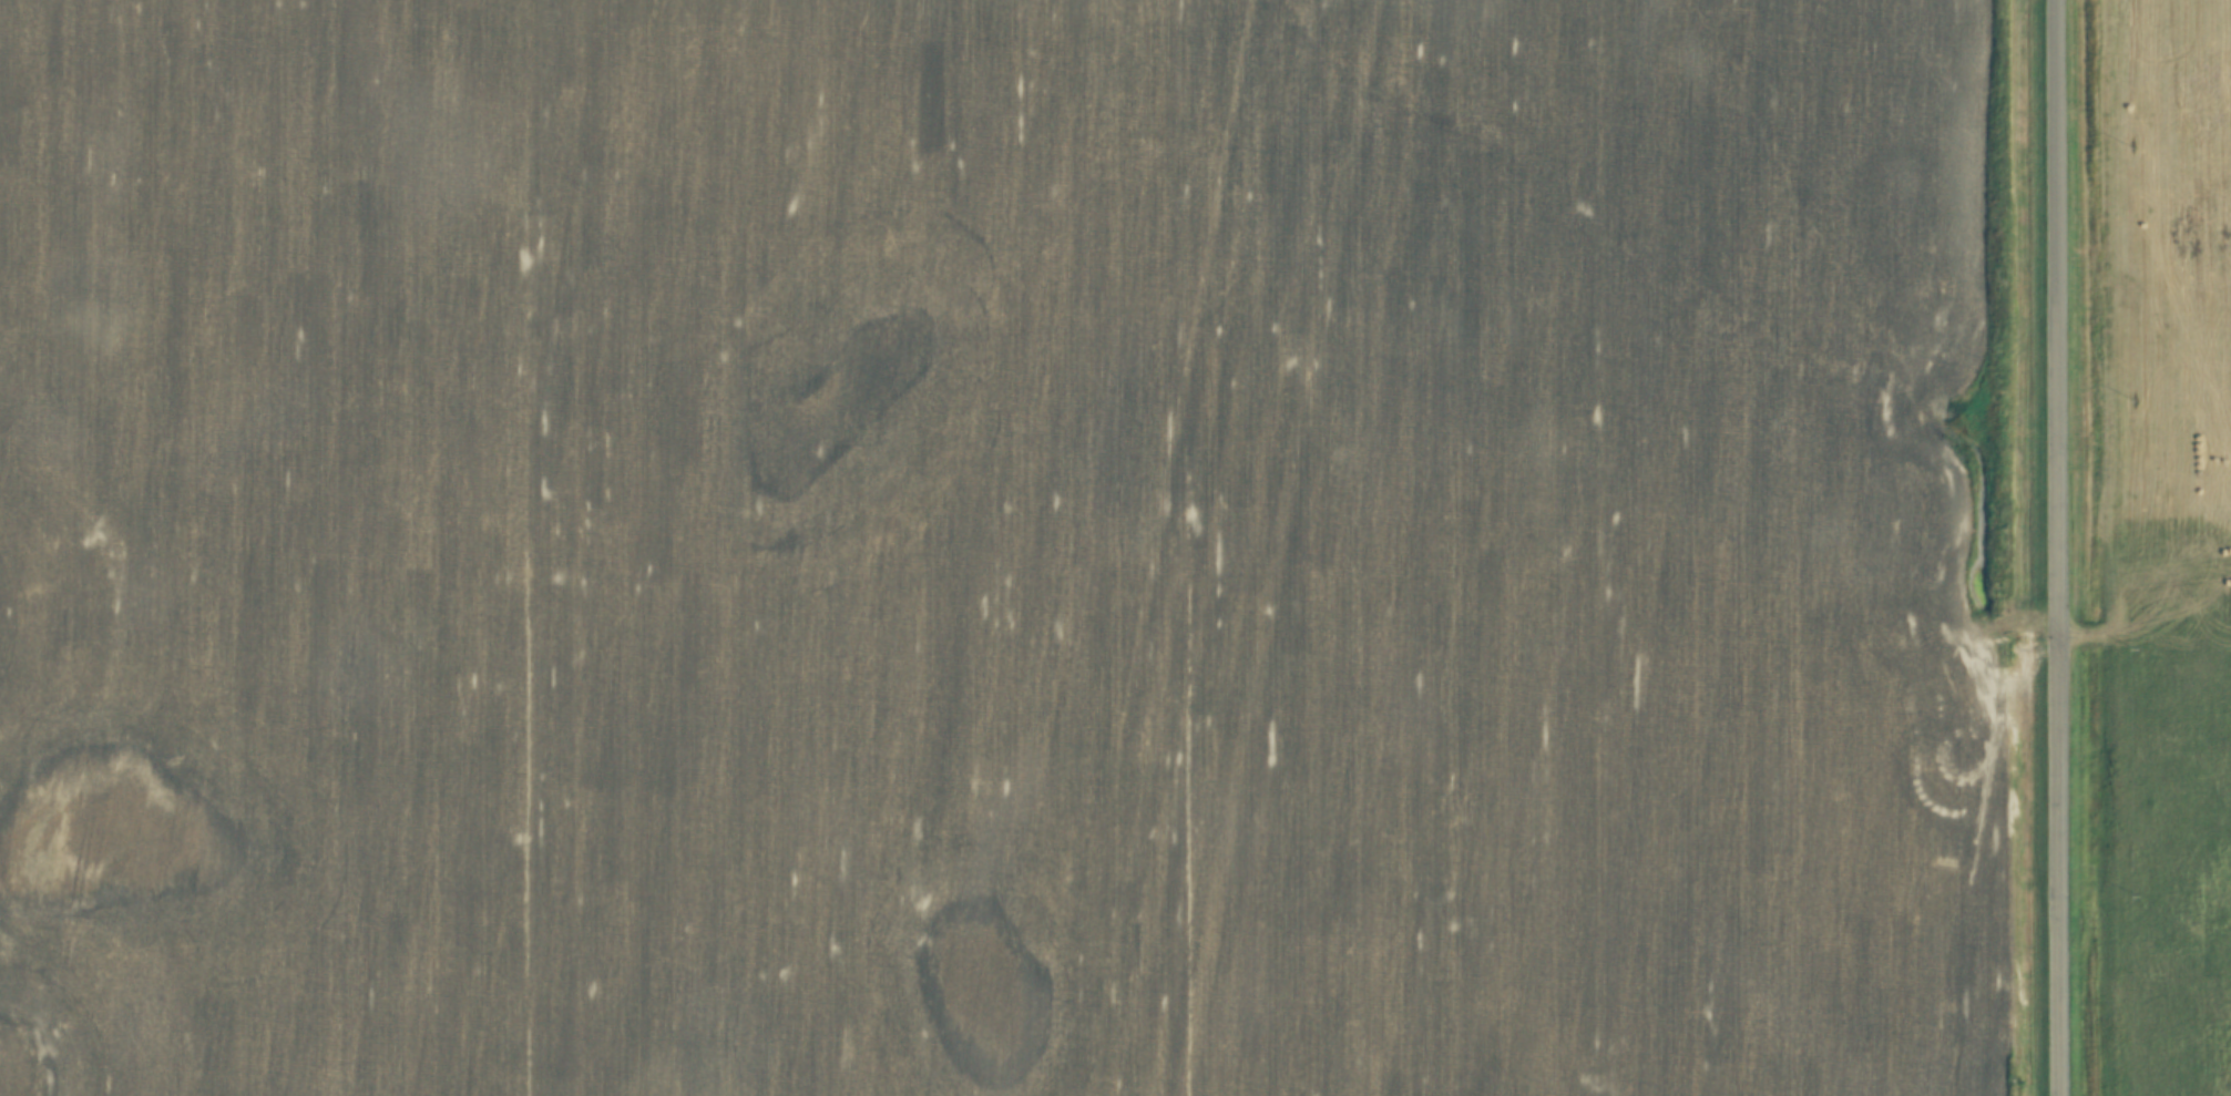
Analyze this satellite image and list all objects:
road: (2058, 547)

